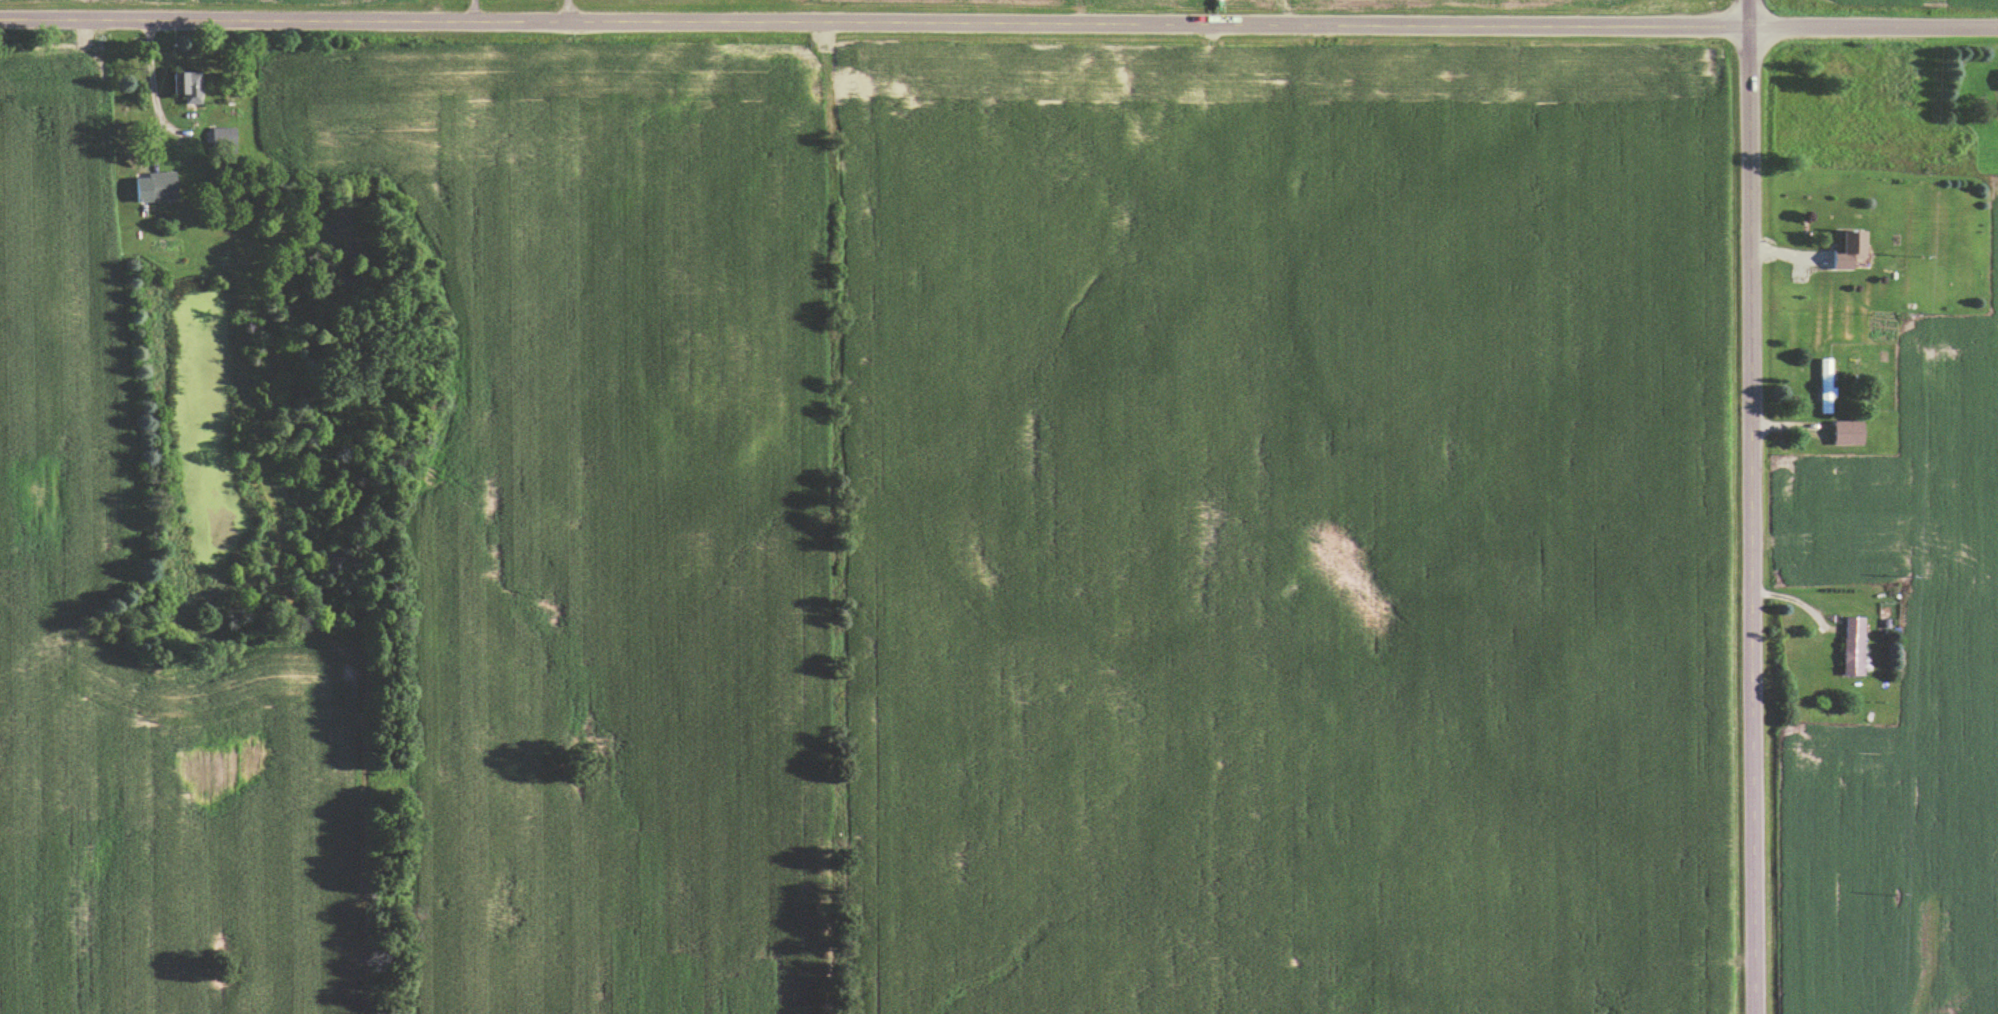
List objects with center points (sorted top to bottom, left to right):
road: (478, 15)
road: (572, 15)
road: (999, 30)
road: (150, 81)
building: (182, 88)
building: (220, 143)
building: (145, 195)
building: (1845, 252)
building: (1823, 388)
building: (1845, 435)
road: (1752, 506)

